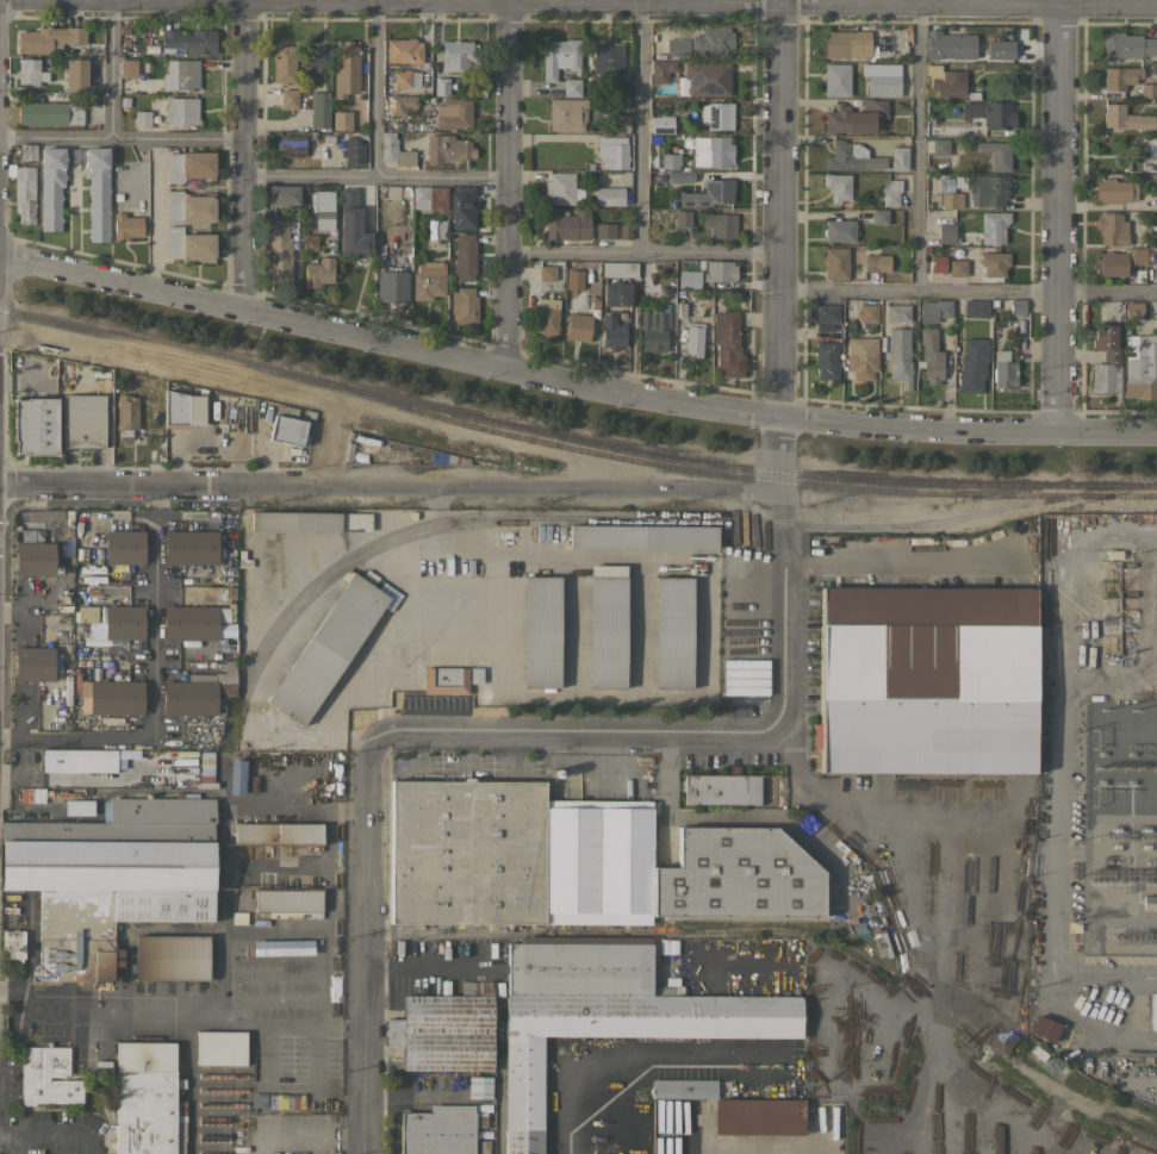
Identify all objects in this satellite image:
road: (701, 2)
building: (48, 38)
building: (189, 40)
building: (711, 42)
building: (847, 44)
building: (939, 44)
building: (1127, 45)
building: (677, 46)
building: (997, 49)
building: (404, 50)
building: (459, 55)
building: (965, 55)
building: (312, 57)
building: (559, 57)
building: (282, 63)
building: (610, 64)
building: (129, 68)
road: (110, 69)
building: (346, 69)
building: (661, 70)
building: (27, 71)
building: (75, 74)
building: (181, 74)
building: (406, 77)
building: (1120, 77)
building: (704, 79)
building: (836, 79)
building: (882, 79)
building: (945, 81)
building: (441, 87)
building: (572, 87)
road: (374, 88)
building: (1149, 91)
building: (288, 99)
building: (400, 104)
building: (971, 108)
building: (319, 110)
building: (181, 111)
building: (454, 112)
building: (49, 113)
building: (567, 113)
building: (997, 113)
building: (716, 114)
building: (856, 117)
building: (1126, 118)
building: (142, 119)
building: (342, 120)
building: (620, 123)
building: (661, 124)
road: (637, 126)
road: (122, 138)
road: (917, 144)
building: (292, 145)
building: (939, 146)
building: (447, 149)
building: (27, 151)
building: (353, 151)
building: (394, 151)
building: (612, 151)
building: (713, 151)
building: (996, 154)
road: (244, 156)
building: (851, 156)
building: (898, 158)
building: (670, 161)
building: (189, 166)
road: (374, 176)
building: (680, 176)
road: (504, 183)
building: (946, 185)
building: (838, 186)
building: (560, 187)
building: (988, 189)
building: (1114, 191)
building: (24, 193)
building: (708, 193)
building: (890, 193)
building: (284, 195)
building: (609, 195)
building: (429, 198)
building: (951, 200)
building: (188, 206)
building: (462, 206)
building: (98, 208)
building: (324, 210)
road: (1057, 216)
building: (879, 217)
building: (682, 218)
road: (154, 222)
building: (567, 224)
building: (720, 224)
building: (126, 225)
building: (353, 225)
building: (995, 225)
building: (1111, 227)
building: (437, 230)
building: (604, 230)
building: (839, 230)
building: (945, 237)
building: (309, 242)
building: (189, 243)
road: (776, 248)
building: (279, 251)
road: (639, 254)
building: (465, 256)
building: (871, 262)
building: (835, 263)
building: (937, 263)
building: (993, 263)
building: (1112, 263)
building: (957, 266)
building: (620, 268)
building: (719, 270)
building: (552, 272)
building: (318, 273)
building: (689, 279)
building: (428, 280)
building: (392, 281)
road: (966, 291)
building: (616, 292)
building: (464, 305)
building: (1018, 305)
building: (975, 307)
building: (934, 310)
building: (1133, 311)
building: (867, 312)
building: (897, 313)
building: (822, 314)
building: (546, 317)
building: (577, 326)
building: (653, 330)
building: (612, 332)
building: (693, 338)
building: (727, 343)
building: (861, 356)
building: (898, 356)
building: (929, 356)
building: (1106, 357)
building: (826, 360)
building: (972, 364)
building: (1140, 366)
building: (1003, 370)
road: (573, 382)
building: (175, 410)
building: (125, 416)
building: (82, 420)
building: (35, 425)
building: (286, 425)
railway: (573, 437)
railway: (755, 479)
road: (388, 487)
railway: (465, 518)
building: (310, 520)
road: (780, 530)
building: (30, 536)
building: (640, 536)
building: (124, 547)
building: (189, 547)
building: (35, 559)
road: (900, 564)
road: (1060, 609)
building: (113, 620)
building: (189, 623)
building: (607, 625)
building: (540, 631)
building: (672, 632)
building: (331, 643)
road: (509, 645)
road: (782, 648)
building: (411, 659)
building: (33, 663)
building: (444, 680)
building: (927, 680)
road: (149, 684)
building: (198, 692)
building: (114, 697)
road: (573, 734)
building: (79, 760)
building: (724, 788)
building: (35, 794)
building: (81, 806)
road: (304, 806)
road: (867, 815)
power substation: (1119, 830)
building: (276, 834)
building: (466, 852)
building: (597, 861)
building: (736, 875)
building: (110, 878)
building: (1149, 902)
building: (287, 903)
railway: (780, 929)
building: (13, 943)
road: (365, 944)
building: (172, 957)
road: (1094, 974)
road: (1145, 974)
road: (185, 998)
road: (1133, 1008)
building: (1152, 1011)
building: (605, 1015)
road: (1076, 1023)
building: (1044, 1028)
building: (446, 1029)
road: (1145, 1041)
building: (220, 1047)
building: (144, 1053)
building: (48, 1077)
building: (683, 1088)
road: (603, 1093)
building: (147, 1111)
building: (758, 1116)
building: (440, 1129)
road: (51, 1131)
road: (759, 1147)

